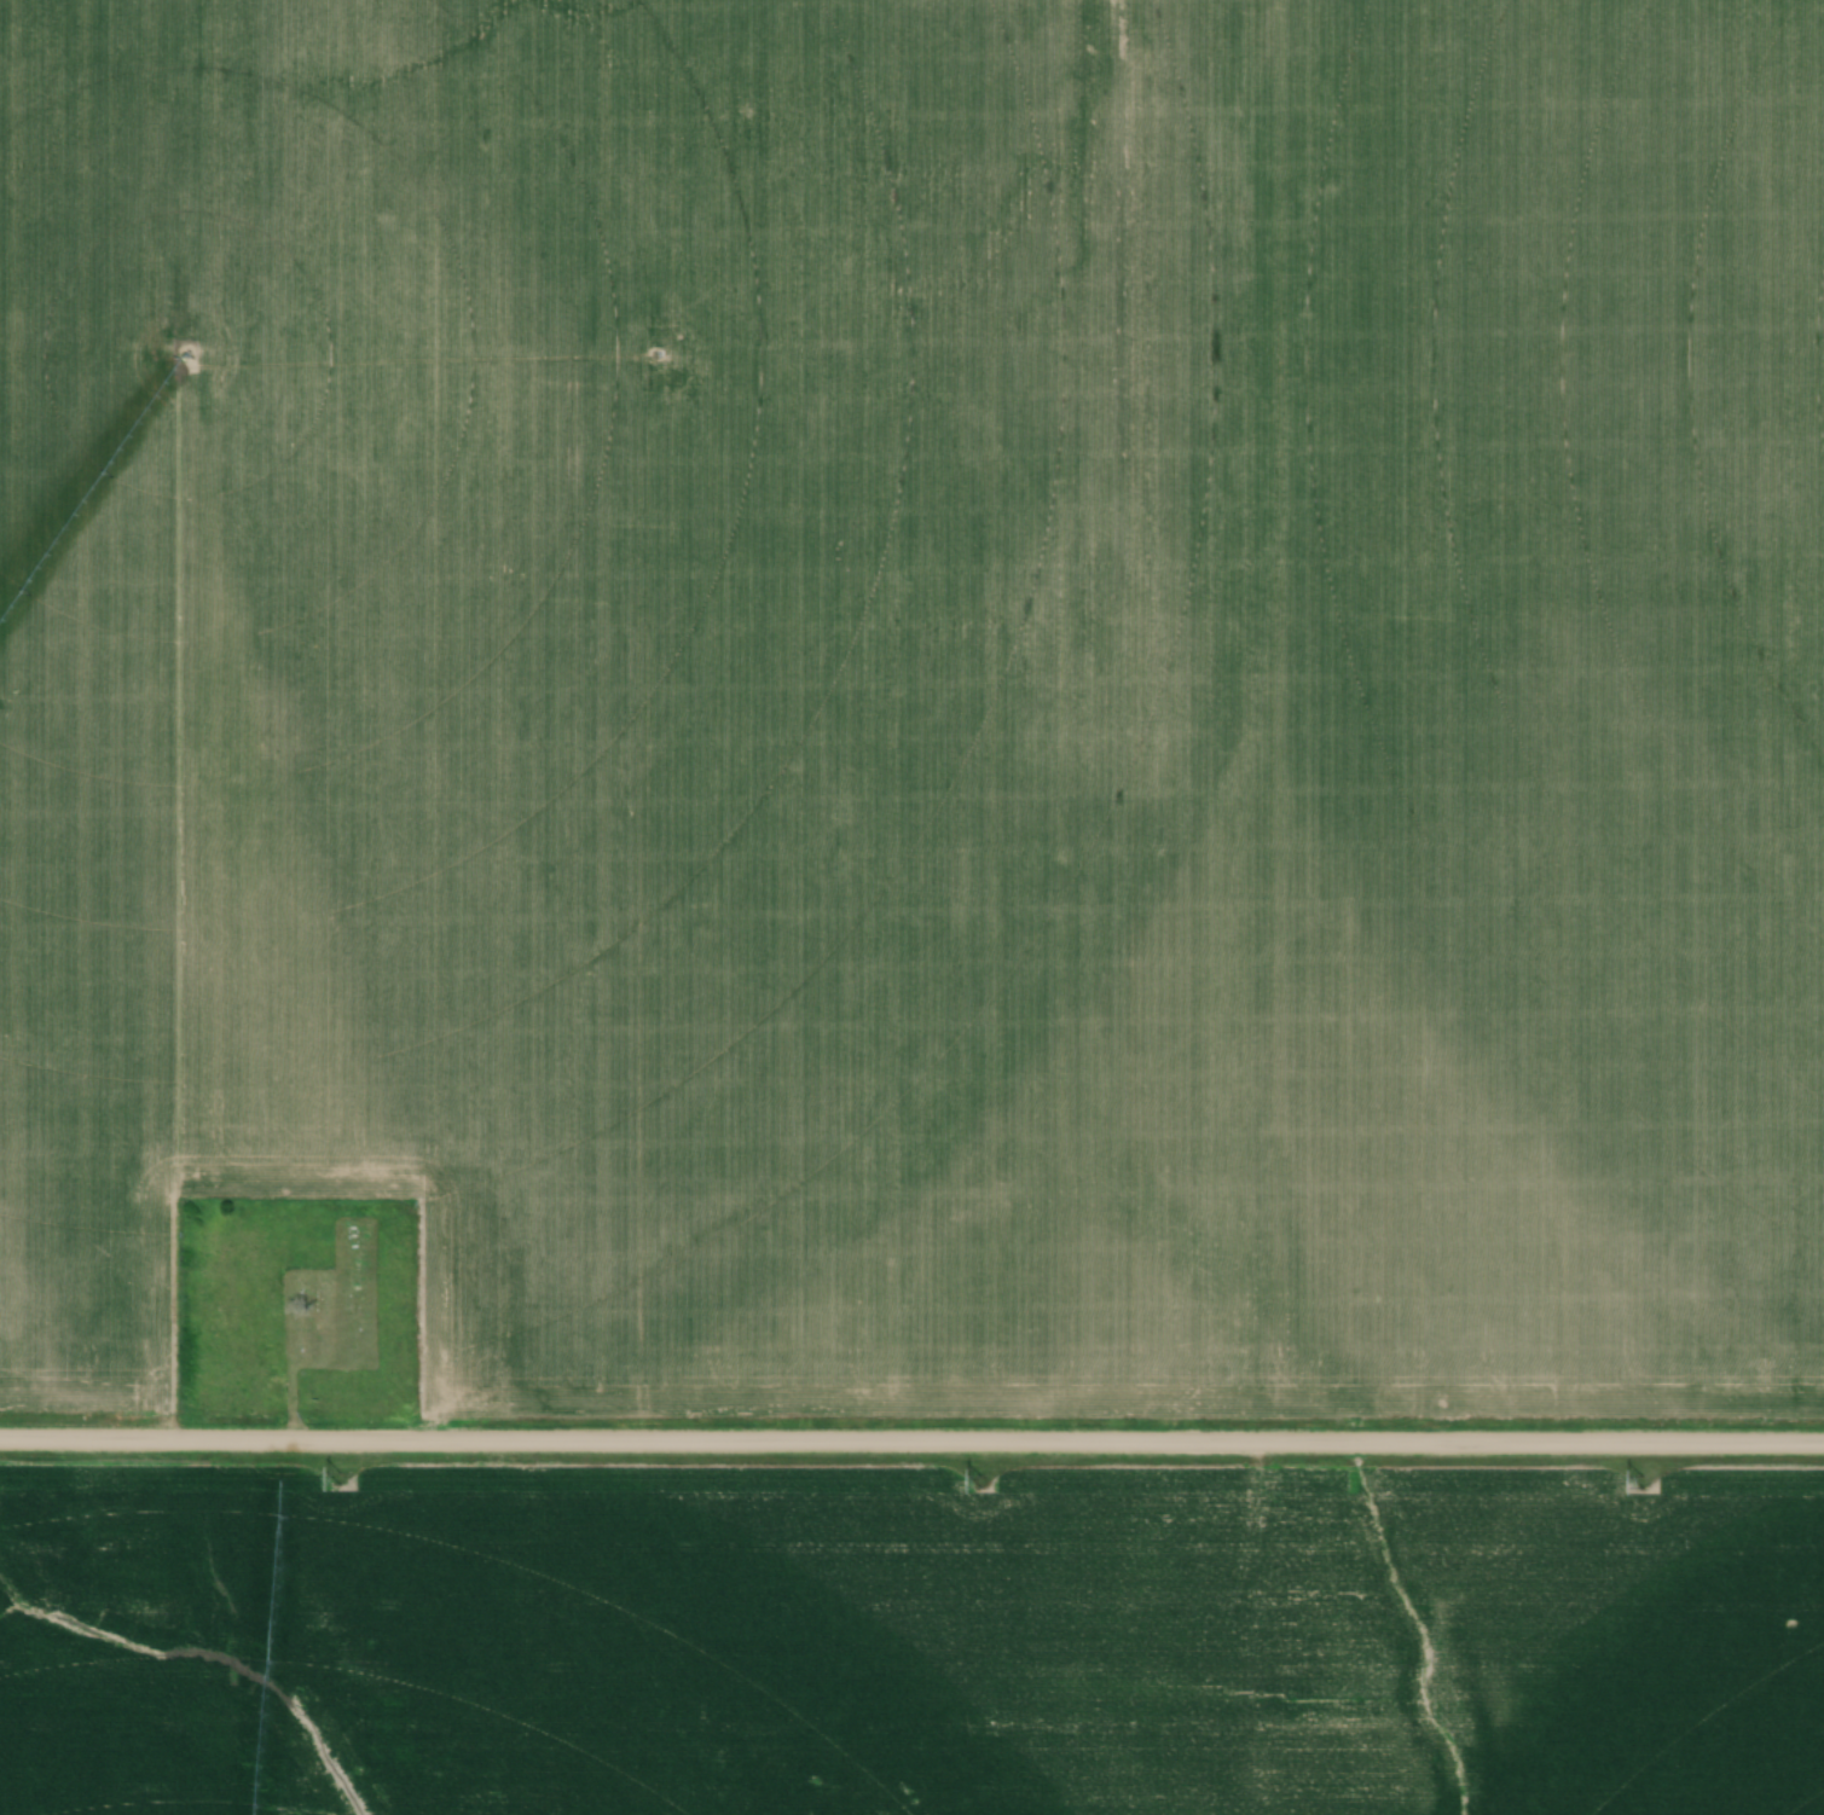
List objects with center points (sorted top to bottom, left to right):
road: (911, 1442)
power tower: (336, 1481)
power tower: (979, 1483)
power tower: (1643, 1483)

